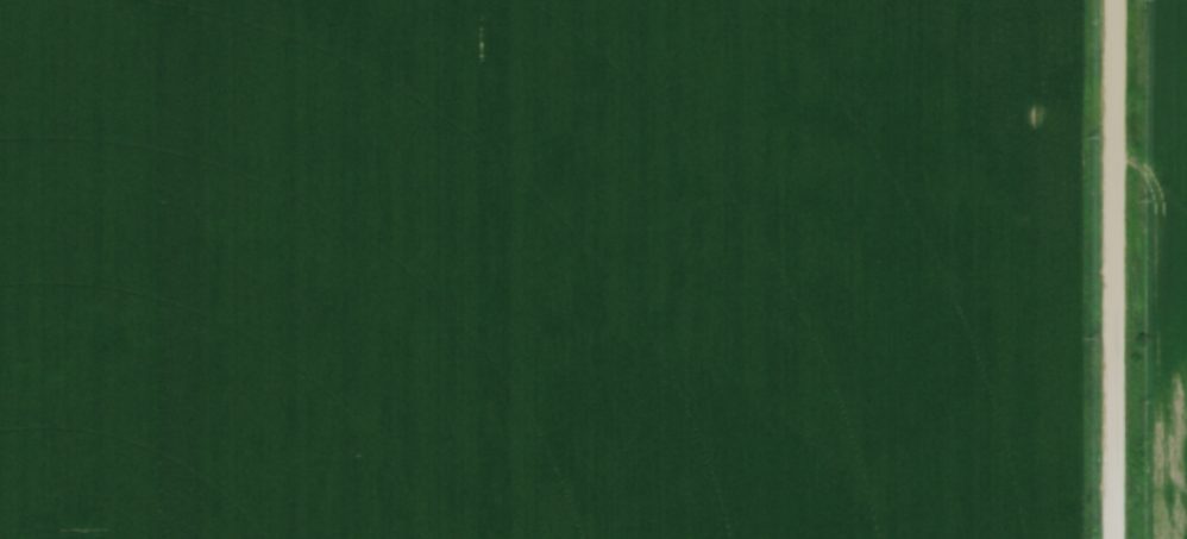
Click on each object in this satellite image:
road: (1114, 269)

